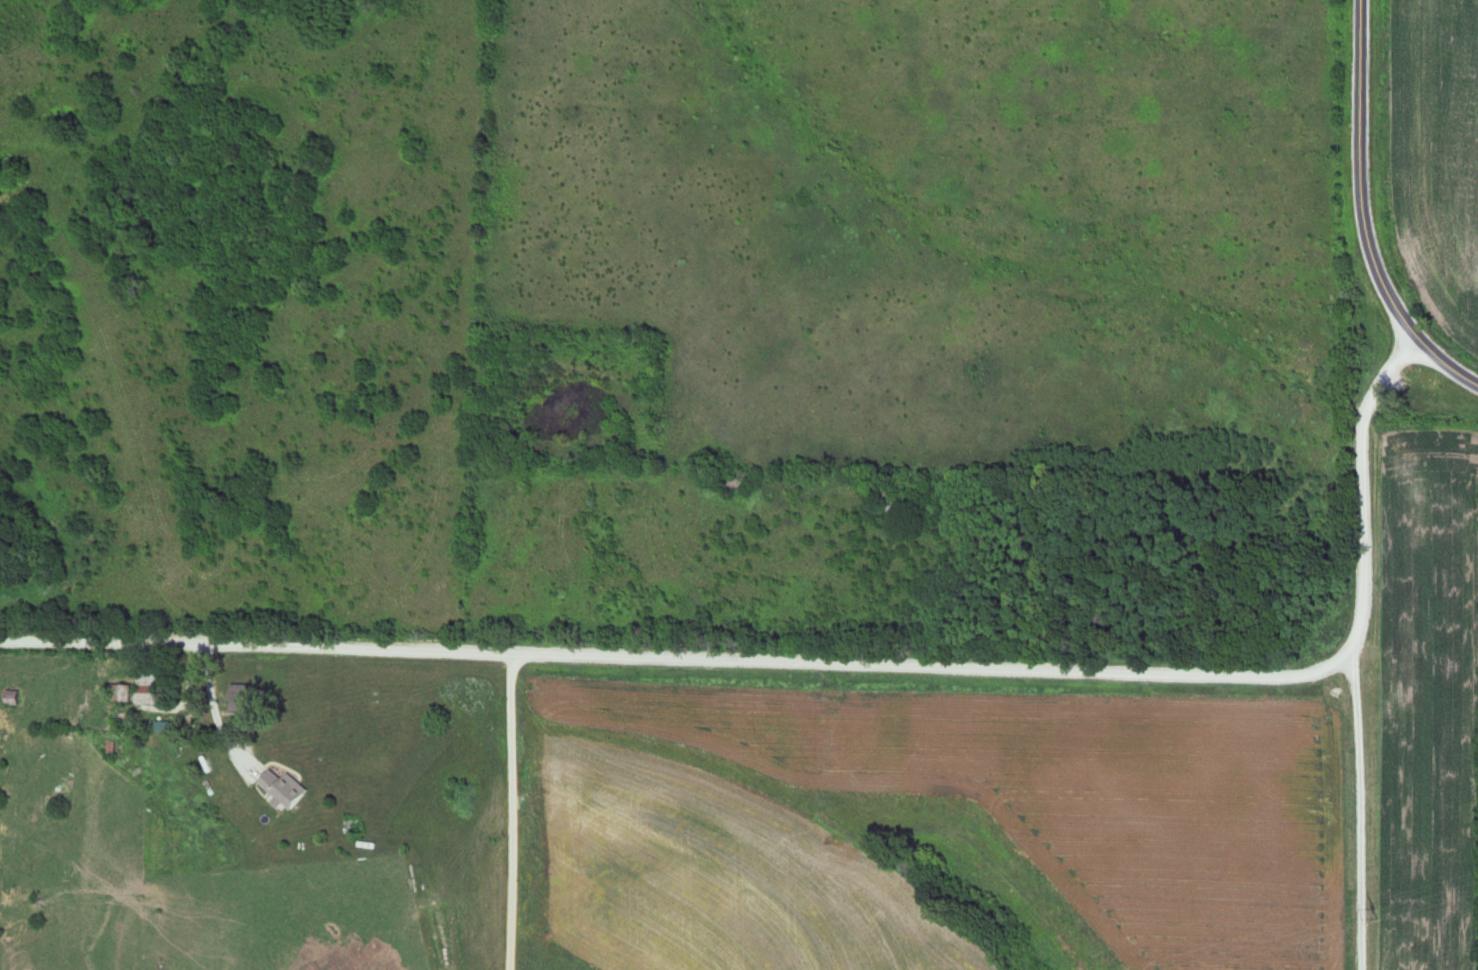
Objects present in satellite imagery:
road: (1363, 216)
road: (843, 666)
building: (149, 687)
building: (121, 692)
building: (13, 697)
building: (244, 697)
road: (216, 713)
building: (286, 788)
road: (1357, 810)
road: (508, 812)
building: (351, 827)
power tower: (1375, 913)

